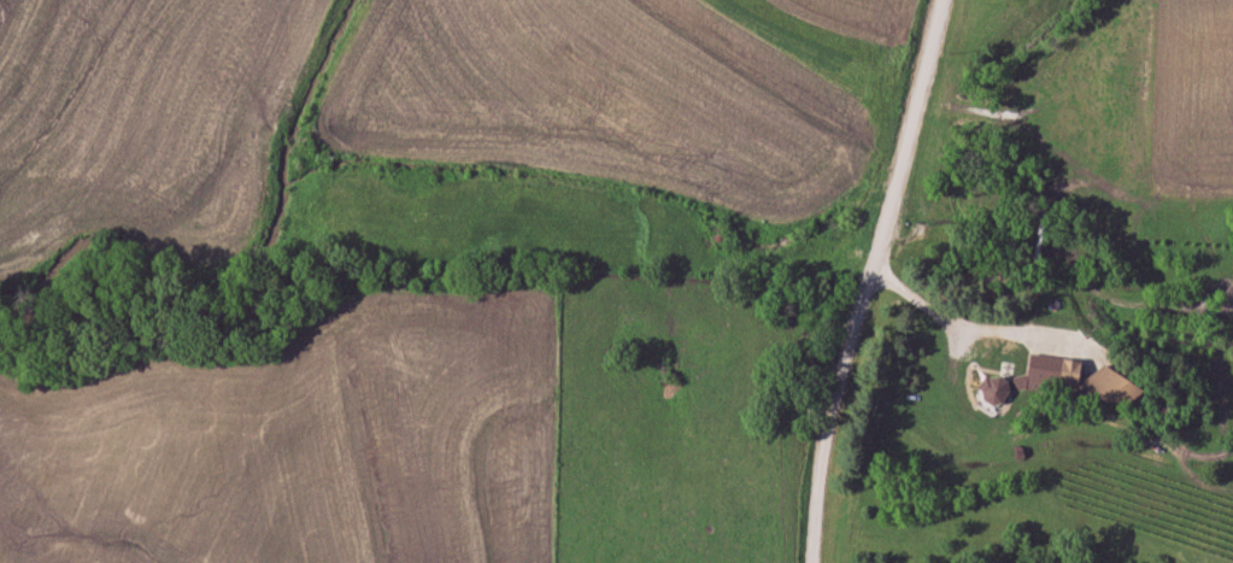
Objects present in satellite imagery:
road: (858, 280)
building: (1073, 377)

